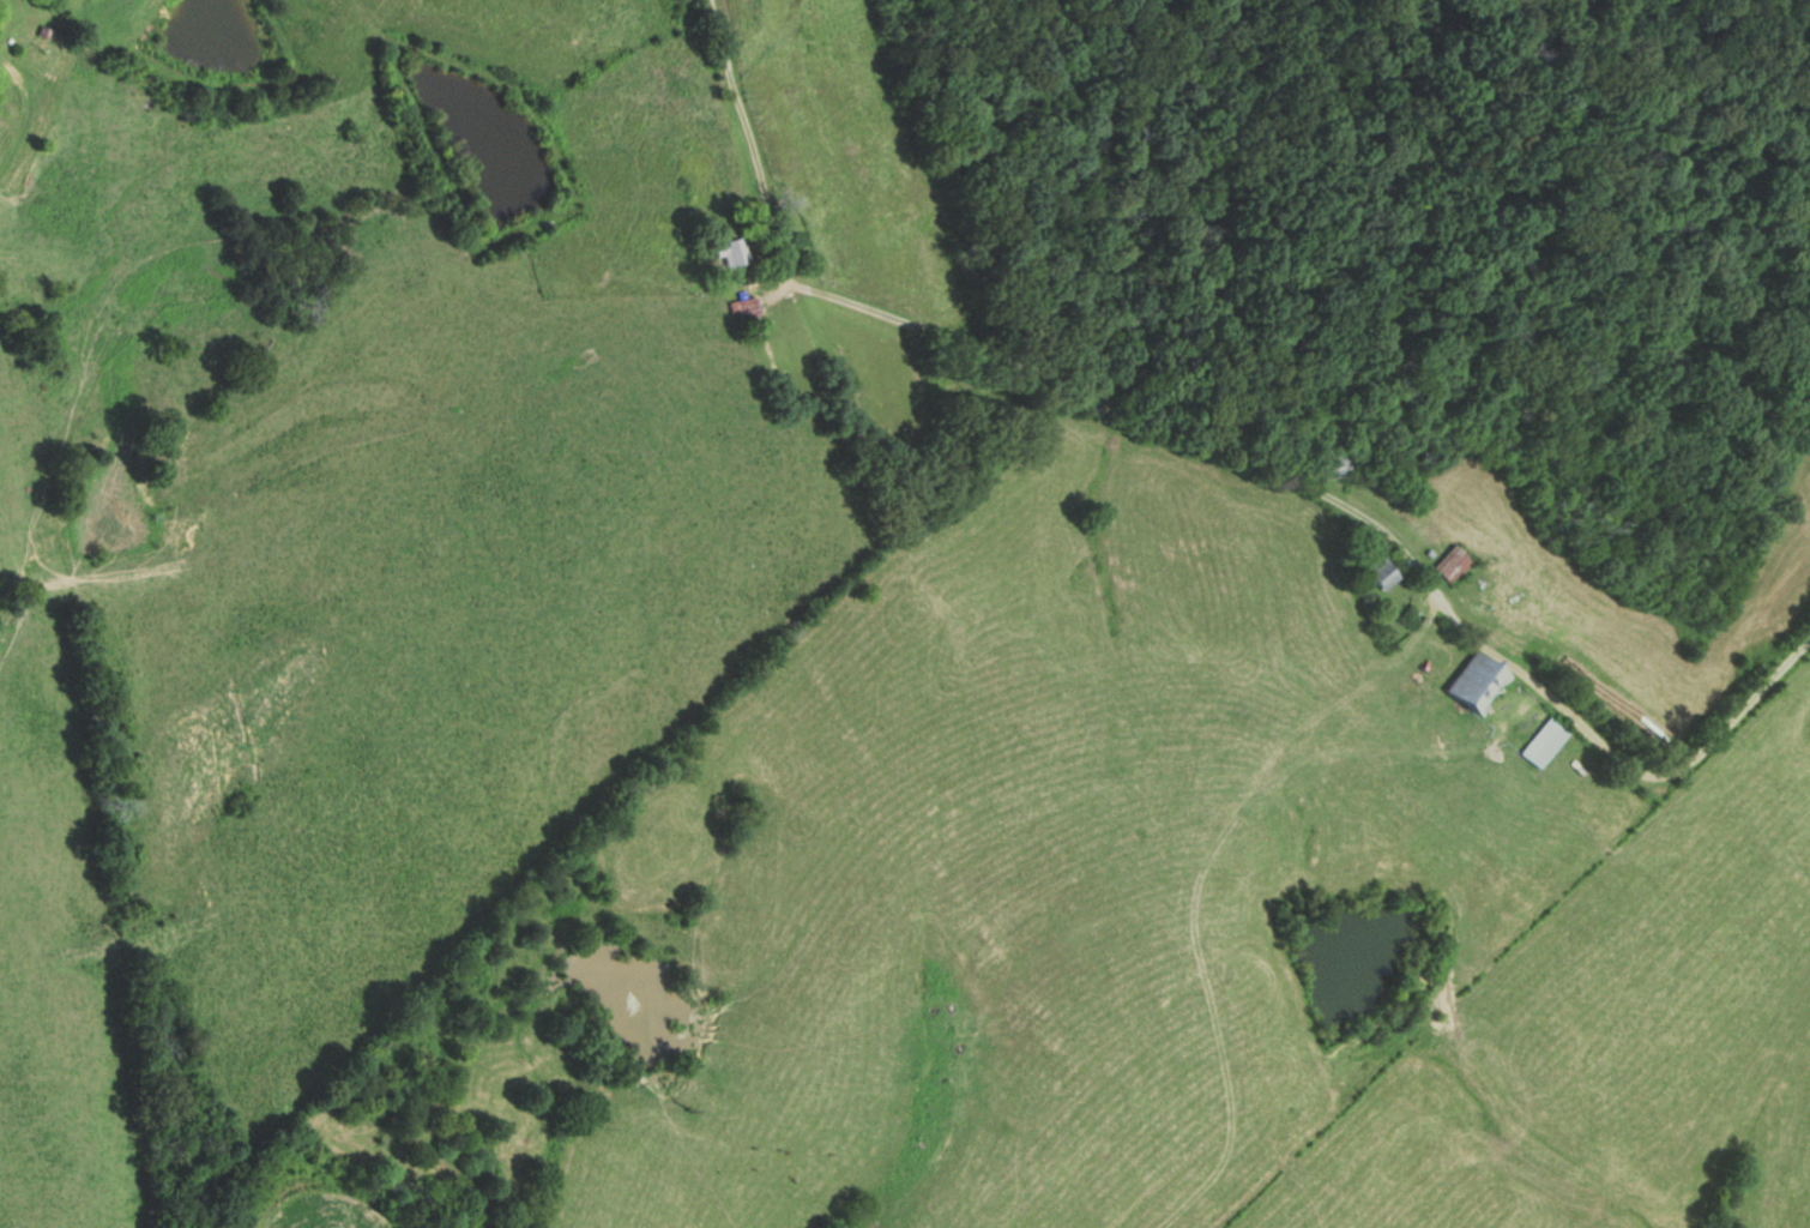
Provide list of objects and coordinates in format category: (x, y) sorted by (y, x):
building: (737, 252)
road: (1157, 449)
building: (1455, 565)
building: (1383, 572)
building: (1412, 619)
building: (1482, 681)
building: (1549, 741)

